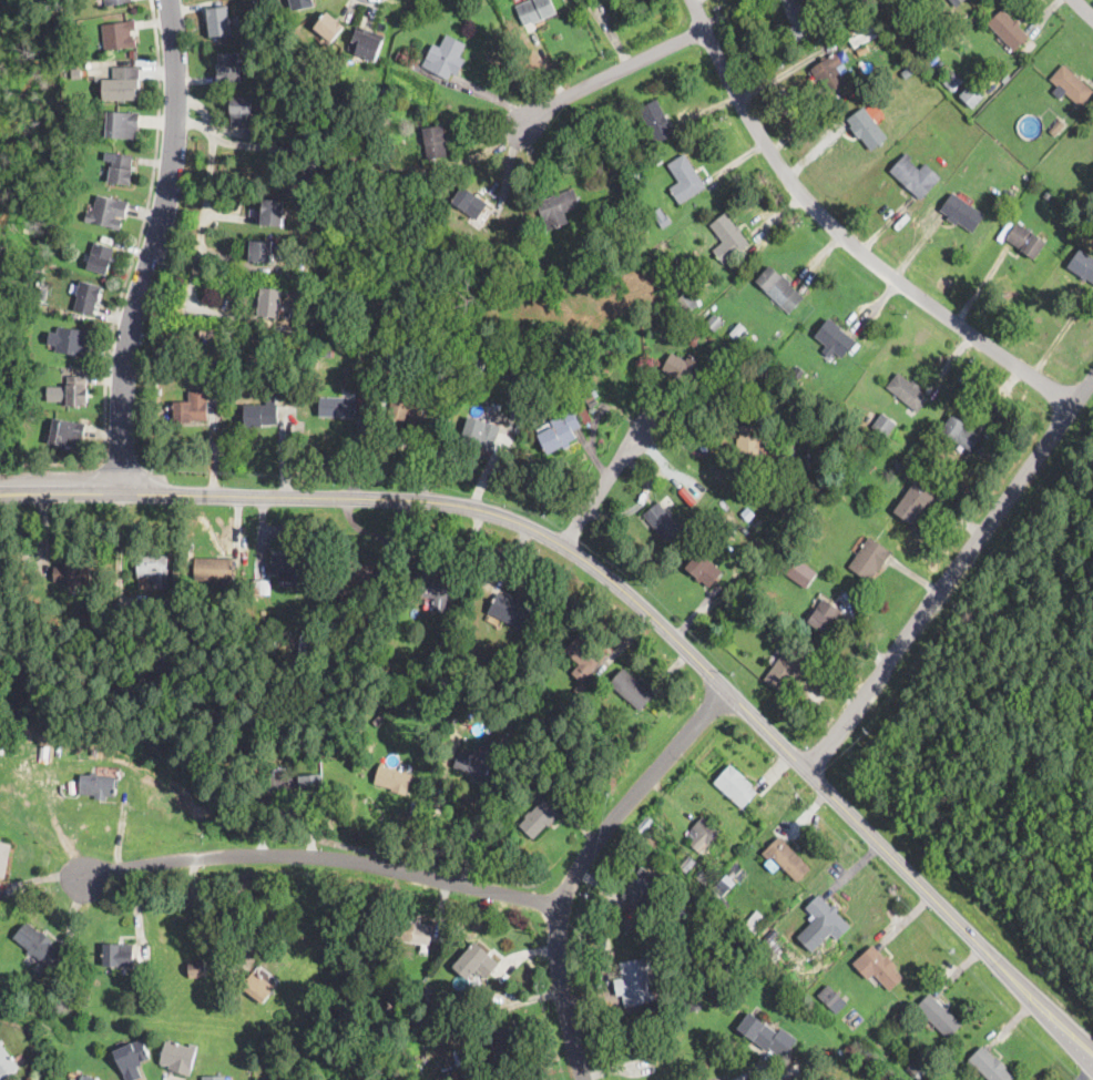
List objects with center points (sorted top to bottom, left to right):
building: (255, 0)
building: (593, 0)
building: (116, 1)
building: (302, 3)
road: (1082, 9)
building: (534, 10)
building: (798, 18)
building: (218, 21)
building: (330, 27)
building: (1008, 29)
building: (940, 31)
building: (864, 32)
building: (119, 34)
building: (839, 35)
building: (367, 43)
building: (864, 49)
building: (132, 51)
building: (446, 58)
building: (402, 59)
building: (228, 68)
building: (908, 71)
building: (831, 72)
road: (607, 73)
building: (126, 83)
building: (953, 85)
building: (1070, 85)
building: (973, 94)
building: (80, 96)
road: (201, 108)
building: (242, 111)
building: (656, 121)
road: (193, 123)
building: (122, 124)
building: (1060, 125)
building: (867, 129)
building: (372, 131)
building: (436, 142)
building: (599, 164)
building: (314, 167)
building: (122, 169)
building: (419, 173)
building: (915, 176)
building: (685, 180)
building: (402, 191)
building: (1009, 195)
building: (469, 203)
building: (559, 206)
building: (109, 212)
building: (273, 212)
building: (962, 212)
building: (662, 217)
road: (202, 220)
building: (52, 224)
road: (142, 233)
road: (845, 236)
building: (1087, 236)
building: (728, 238)
building: (1026, 241)
road: (154, 247)
building: (262, 252)
building: (100, 257)
building: (492, 257)
building: (514, 261)
building: (651, 263)
building: (1082, 266)
building: (780, 289)
building: (678, 292)
building: (348, 294)
building: (88, 297)
building: (687, 300)
building: (270, 303)
building: (715, 320)
building: (222, 330)
building: (736, 330)
building: (206, 332)
building: (699, 335)
building: (745, 336)
building: (835, 339)
building: (73, 340)
building: (708, 342)
building: (330, 354)
building: (603, 360)
building: (684, 368)
building: (743, 369)
building: (801, 370)
building: (347, 371)
building: (758, 386)
building: (78, 390)
building: (907, 393)
building: (562, 398)
building: (592, 399)
building: (385, 401)
building: (791, 403)
building: (362, 405)
building: (192, 408)
building: (337, 408)
building: (769, 408)
building: (415, 409)
building: (262, 412)
building: (524, 412)
building: (585, 415)
building: (32, 416)
building: (883, 426)
building: (560, 430)
building: (68, 432)
building: (960, 434)
building: (478, 438)
building: (754, 444)
building: (821, 460)
building: (901, 466)
building: (783, 479)
road: (603, 483)
building: (916, 500)
building: (810, 511)
building: (748, 514)
building: (663, 521)
building: (870, 559)
building: (153, 567)
building: (289, 567)
building: (775, 569)
building: (214, 570)
building: (704, 570)
building: (800, 572)
road: (950, 573)
building: (74, 574)
building: (366, 575)
building: (263, 585)
building: (433, 590)
road: (632, 594)
building: (509, 611)
building: (824, 617)
building: (328, 618)
building: (265, 629)
building: (388, 630)
building: (375, 631)
building: (307, 648)
building: (267, 649)
building: (165, 650)
building: (438, 655)
building: (584, 656)
building: (785, 671)
building: (580, 690)
building: (632, 690)
building: (456, 709)
building: (379, 719)
building: (452, 737)
building: (16, 751)
building: (95, 751)
building: (42, 753)
building: (327, 753)
building: (474, 763)
building: (395, 781)
building: (311, 783)
building: (96, 786)
building: (735, 786)
building: (285, 787)
building: (540, 818)
building: (776, 828)
building: (708, 832)
road: (325, 856)
building: (4, 858)
building: (788, 859)
road: (580, 864)
building: (733, 869)
building: (703, 875)
building: (723, 885)
building: (640, 887)
building: (723, 904)
building: (680, 913)
road: (205, 917)
building: (827, 917)
building: (756, 919)
building: (413, 931)
building: (769, 941)
building: (38, 944)
building: (119, 956)
building: (685, 960)
building: (477, 962)
building: (881, 967)
building: (197, 969)
building: (685, 969)
building: (697, 971)
building: (634, 985)
building: (258, 987)
building: (427, 992)
building: (84, 999)
building: (832, 999)
building: (689, 1005)
building: (939, 1016)
building: (766, 1033)
building: (639, 1041)
building: (503, 1043)
building: (891, 1045)
building: (840, 1046)
building: (178, 1057)
building: (132, 1059)
building: (635, 1061)
building: (7, 1063)
building: (989, 1066)
building: (916, 1068)
building: (88, 1078)
building: (214, 1078)
building: (799, 1078)

